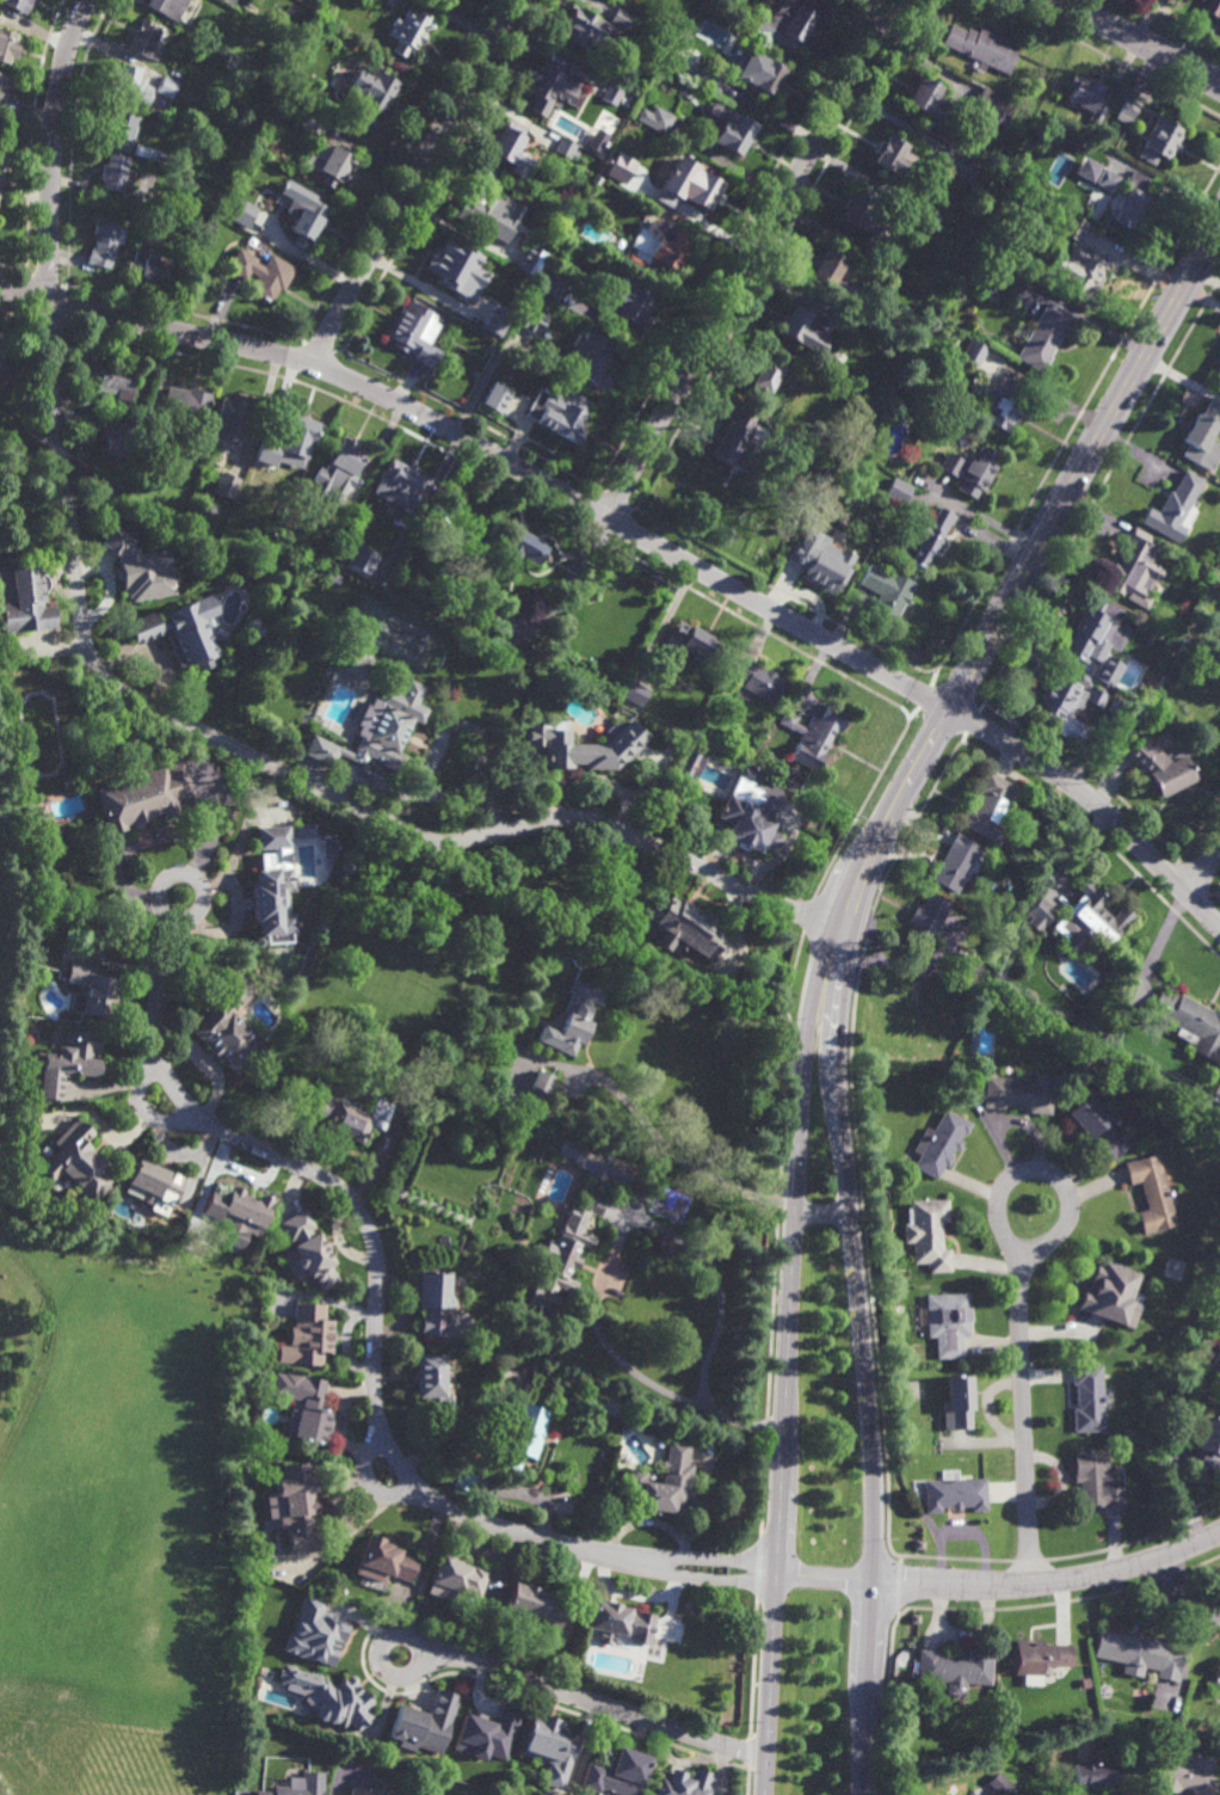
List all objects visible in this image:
building: (19, 5)
building: (167, 6)
building: (1213, 7)
building: (622, 17)
building: (784, 24)
road: (1169, 25)
building: (586, 26)
building: (408, 30)
building: (143, 36)
road: (1136, 39)
building: (277, 41)
building: (6, 44)
building: (980, 45)
road: (1102, 56)
building: (758, 70)
building: (173, 72)
building: (708, 74)
building: (131, 85)
building: (4, 86)
building: (167, 86)
building: (550, 87)
building: (611, 93)
building: (1084, 93)
building: (368, 94)
building: (993, 104)
building: (154, 111)
building: (1126, 111)
building: (654, 118)
building: (310, 123)
building: (123, 125)
building: (732, 133)
road: (32, 137)
road: (73, 141)
building: (1160, 141)
building: (509, 143)
building: (566, 147)
building: (153, 154)
building: (889, 154)
building: (332, 164)
building: (961, 165)
road: (394, 168)
building: (1086, 170)
building: (115, 172)
road: (438, 174)
building: (148, 179)
building: (624, 179)
road: (412, 180)
building: (1107, 180)
building: (698, 189)
building: (1128, 204)
building: (241, 213)
building: (488, 213)
building: (864, 214)
building: (923, 217)
building: (307, 223)
building: (221, 225)
building: (258, 226)
building: (1072, 228)
building: (153, 235)
road: (50, 241)
road: (732, 242)
building: (105, 244)
building: (654, 250)
road: (775, 253)
road: (747, 258)
building: (529, 265)
road: (7, 268)
building: (155, 268)
building: (449, 269)
building: (830, 270)
building: (888, 271)
building: (1079, 272)
road: (26, 273)
building: (261, 273)
road: (44, 281)
building: (552, 284)
road: (27, 296)
building: (622, 300)
road: (67, 308)
road: (183, 312)
road: (18, 314)
building: (489, 318)
building: (531, 320)
road: (51, 325)
building: (806, 326)
building: (412, 333)
building: (1043, 337)
road: (319, 348)
road: (339, 351)
building: (974, 352)
building: (456, 355)
building: (590, 358)
road: (300, 362)
building: (2, 364)
road: (326, 370)
building: (475, 375)
building: (116, 381)
building: (765, 382)
building: (494, 398)
building: (186, 402)
building: (1002, 404)
building: (103, 405)
building: (239, 412)
road: (1078, 416)
road: (469, 418)
building: (563, 423)
building: (300, 432)
building: (140, 436)
building: (1203, 437)
building: (118, 439)
building: (733, 441)
building: (152, 448)
building: (267, 450)
road: (492, 453)
building: (344, 456)
road: (32, 460)
building: (972, 471)
building: (820, 473)
building: (407, 477)
building: (463, 480)
road: (503, 484)
building: (226, 485)
road: (1101, 488)
road: (598, 490)
building: (899, 491)
road: (614, 504)
building: (340, 508)
road: (634, 510)
building: (1175, 510)
road: (589, 511)
road: (616, 529)
road: (1046, 534)
building: (926, 539)
building: (525, 542)
building: (361, 560)
building: (819, 564)
building: (140, 567)
building: (1135, 568)
building: (374, 570)
building: (333, 576)
building: (887, 592)
road: (784, 594)
building: (25, 598)
building: (499, 610)
building: (513, 625)
building: (1096, 631)
building: (180, 633)
park: (390, 635)
building: (691, 641)
building: (356, 665)
building: (758, 678)
road: (935, 680)
building: (635, 691)
building: (1068, 694)
road: (956, 697)
road: (929, 699)
building: (1117, 705)
road: (981, 706)
road: (914, 713)
road: (968, 721)
road: (939, 723)
building: (380, 729)
park: (39, 734)
building: (812, 736)
road: (960, 738)
building: (584, 744)
building: (692, 766)
building: (1159, 766)
road: (1086, 773)
building: (144, 795)
road: (1096, 804)
road: (861, 806)
building: (988, 807)
building: (38, 816)
building: (751, 816)
road: (378, 817)
road: (1202, 829)
building: (304, 830)
road: (1101, 836)
building: (329, 848)
road: (1178, 860)
building: (955, 862)
road: (1206, 868)
road: (173, 873)
road: (1167, 874)
road: (1193, 880)
road: (1154, 885)
building: (273, 887)
road: (1218, 891)
road: (1213, 896)
road: (1219, 898)
road: (1199, 904)
road: (807, 914)
building: (1040, 914)
road: (1187, 916)
building: (926, 918)
building: (1089, 920)
building: (684, 927)
building: (966, 966)
building: (91, 990)
building: (574, 1019)
building: (1190, 1021)
building: (229, 1026)
building: (66, 1064)
building: (1218, 1088)
building: (540, 1089)
building: (1018, 1093)
road: (141, 1107)
building: (351, 1115)
building: (29, 1120)
building: (1097, 1125)
road: (851, 1138)
building: (941, 1144)
road: (678, 1158)
building: (78, 1162)
building: (593, 1162)
road: (1052, 1176)
building: (156, 1186)
building: (642, 1190)
building: (1151, 1192)
building: (668, 1203)
building: (238, 1215)
road: (822, 1217)
road: (774, 1232)
building: (929, 1234)
building: (308, 1253)
building: (565, 1258)
road: (612, 1259)
road: (93, 1277)
road: (377, 1280)
building: (1105, 1295)
building: (433, 1301)
road: (789, 1314)
road: (862, 1318)
building: (948, 1323)
park: (82, 1333)
building: (310, 1333)
building: (1216, 1363)
building: (433, 1381)
building: (1086, 1397)
building: (957, 1400)
building: (303, 1403)
road: (1024, 1420)
park: (91, 1422)
road: (339, 1432)
building: (523, 1436)
building: (1204, 1437)
building: (464, 1479)
building: (1096, 1479)
building: (663, 1481)
road: (366, 1482)
building: (954, 1493)
building: (296, 1505)
road: (1134, 1541)
building: (918, 1543)
building: (384, 1559)
road: (711, 1559)
road: (951, 1559)
road: (1028, 1562)
road: (757, 1566)
building: (456, 1576)
road: (709, 1576)
road: (824, 1578)
road: (1049, 1582)
road: (893, 1585)
road: (1178, 1596)
building: (331, 1605)
building: (532, 1605)
building: (252, 1611)
building: (913, 1618)
building: (618, 1622)
building: (314, 1633)
road: (406, 1636)
building: (1139, 1652)
building: (1039, 1655)
road: (751, 1667)
building: (955, 1668)
building: (1216, 1678)
building: (329, 1696)
road: (877, 1696)
road: (594, 1701)
building: (424, 1723)
building: (486, 1734)
building: (549, 1746)
road: (746, 1751)
building: (616, 1772)
building: (1185, 1777)
building: (1092, 1779)
road: (744, 1781)
building: (679, 1782)
building: (298, 1785)
building: (999, 1785)
building: (359, 1791)

